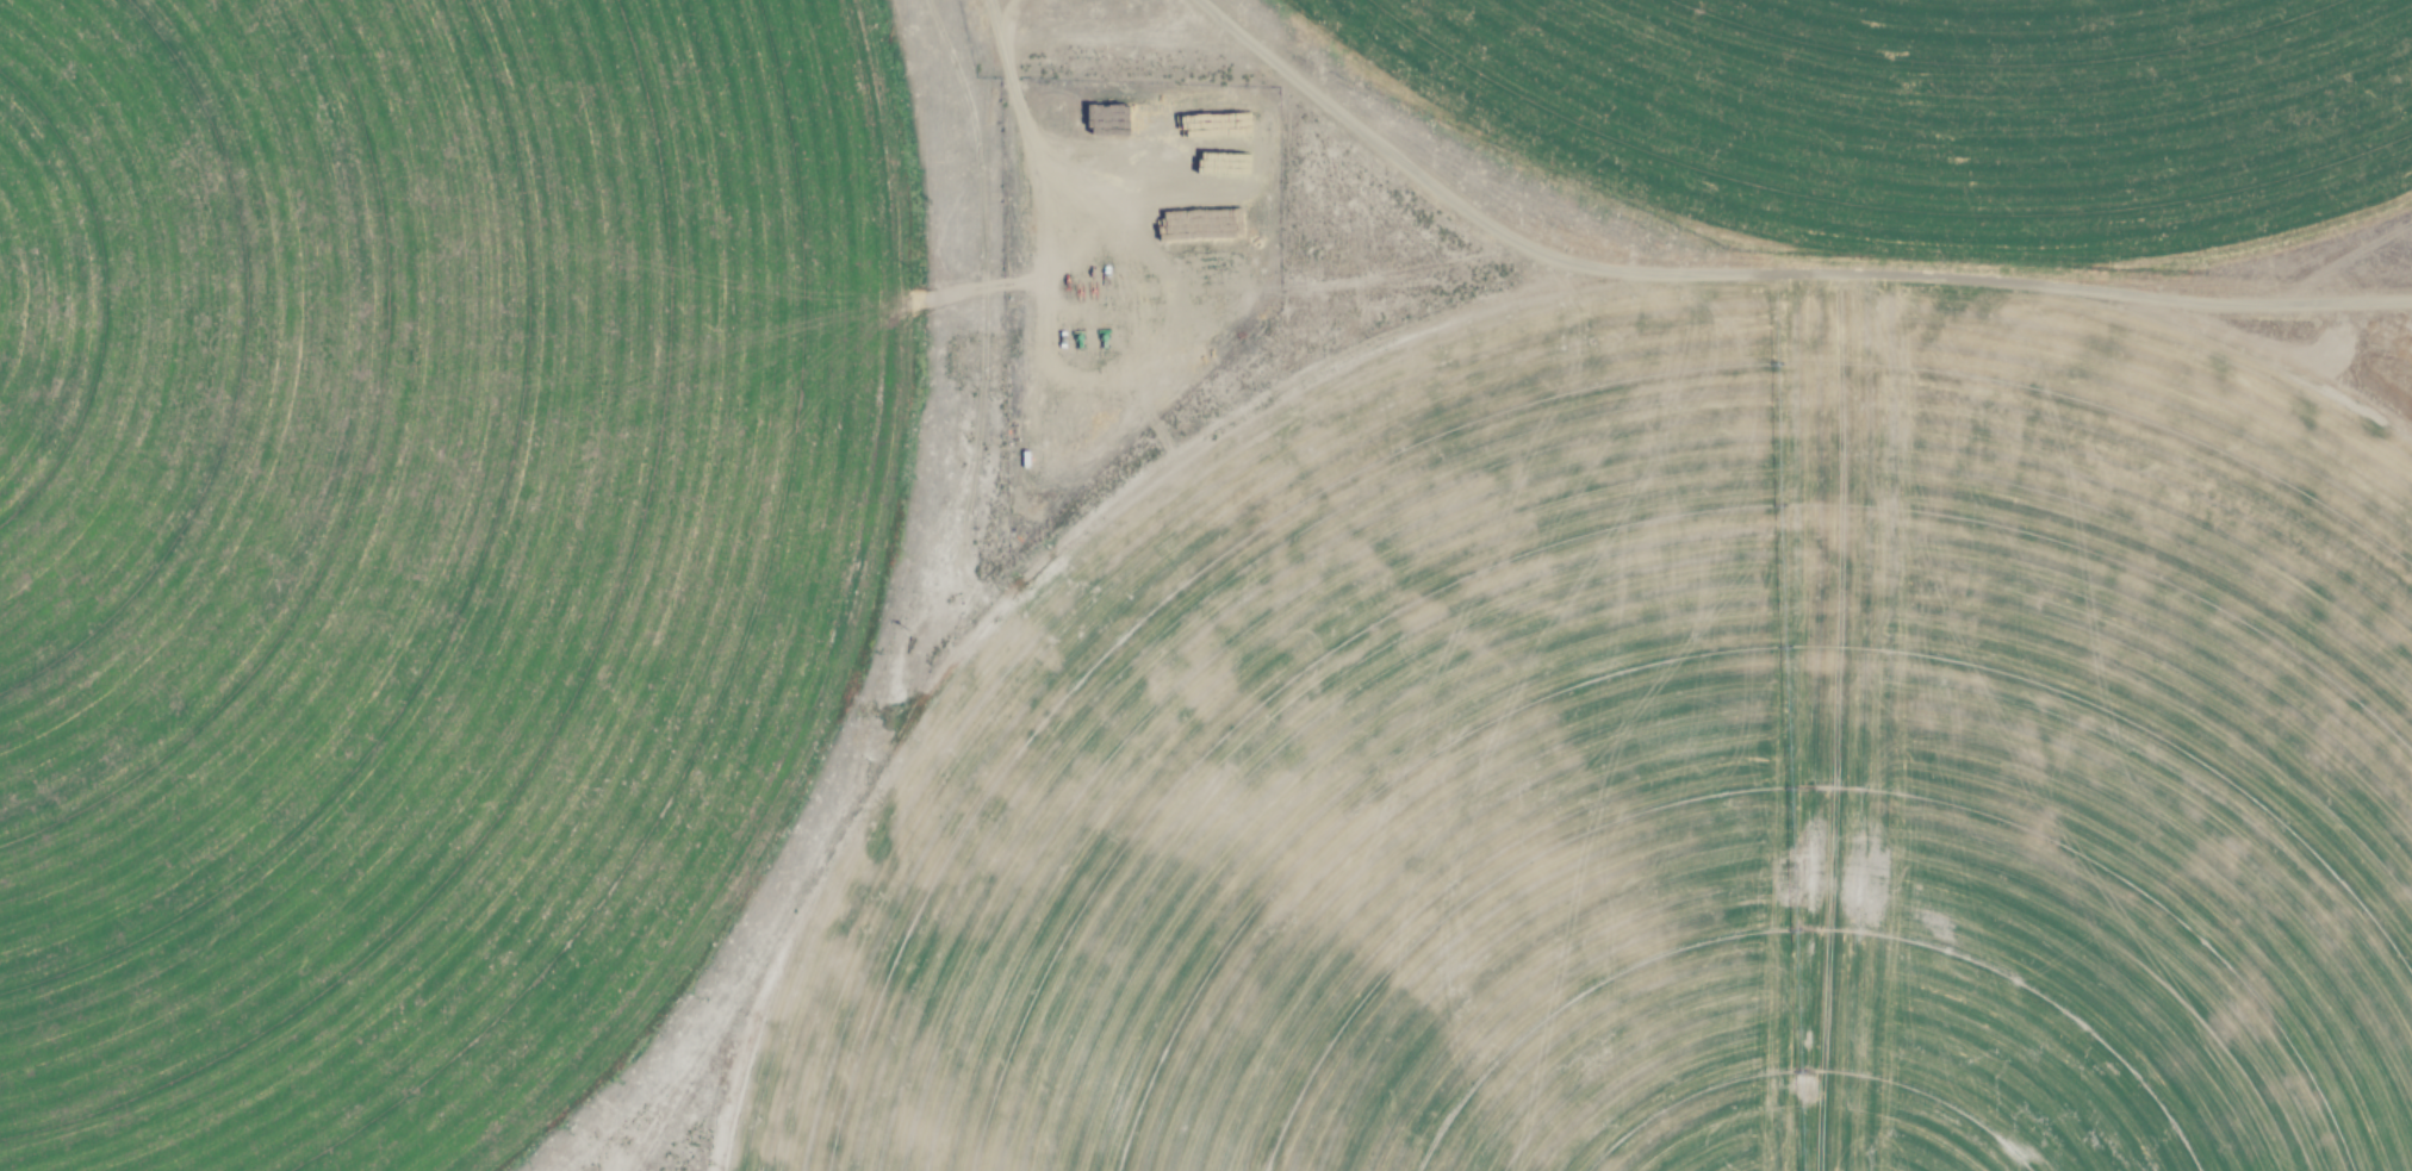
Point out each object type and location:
road: (976, 118)
crop: (409, 538)
crop: (1666, 761)

